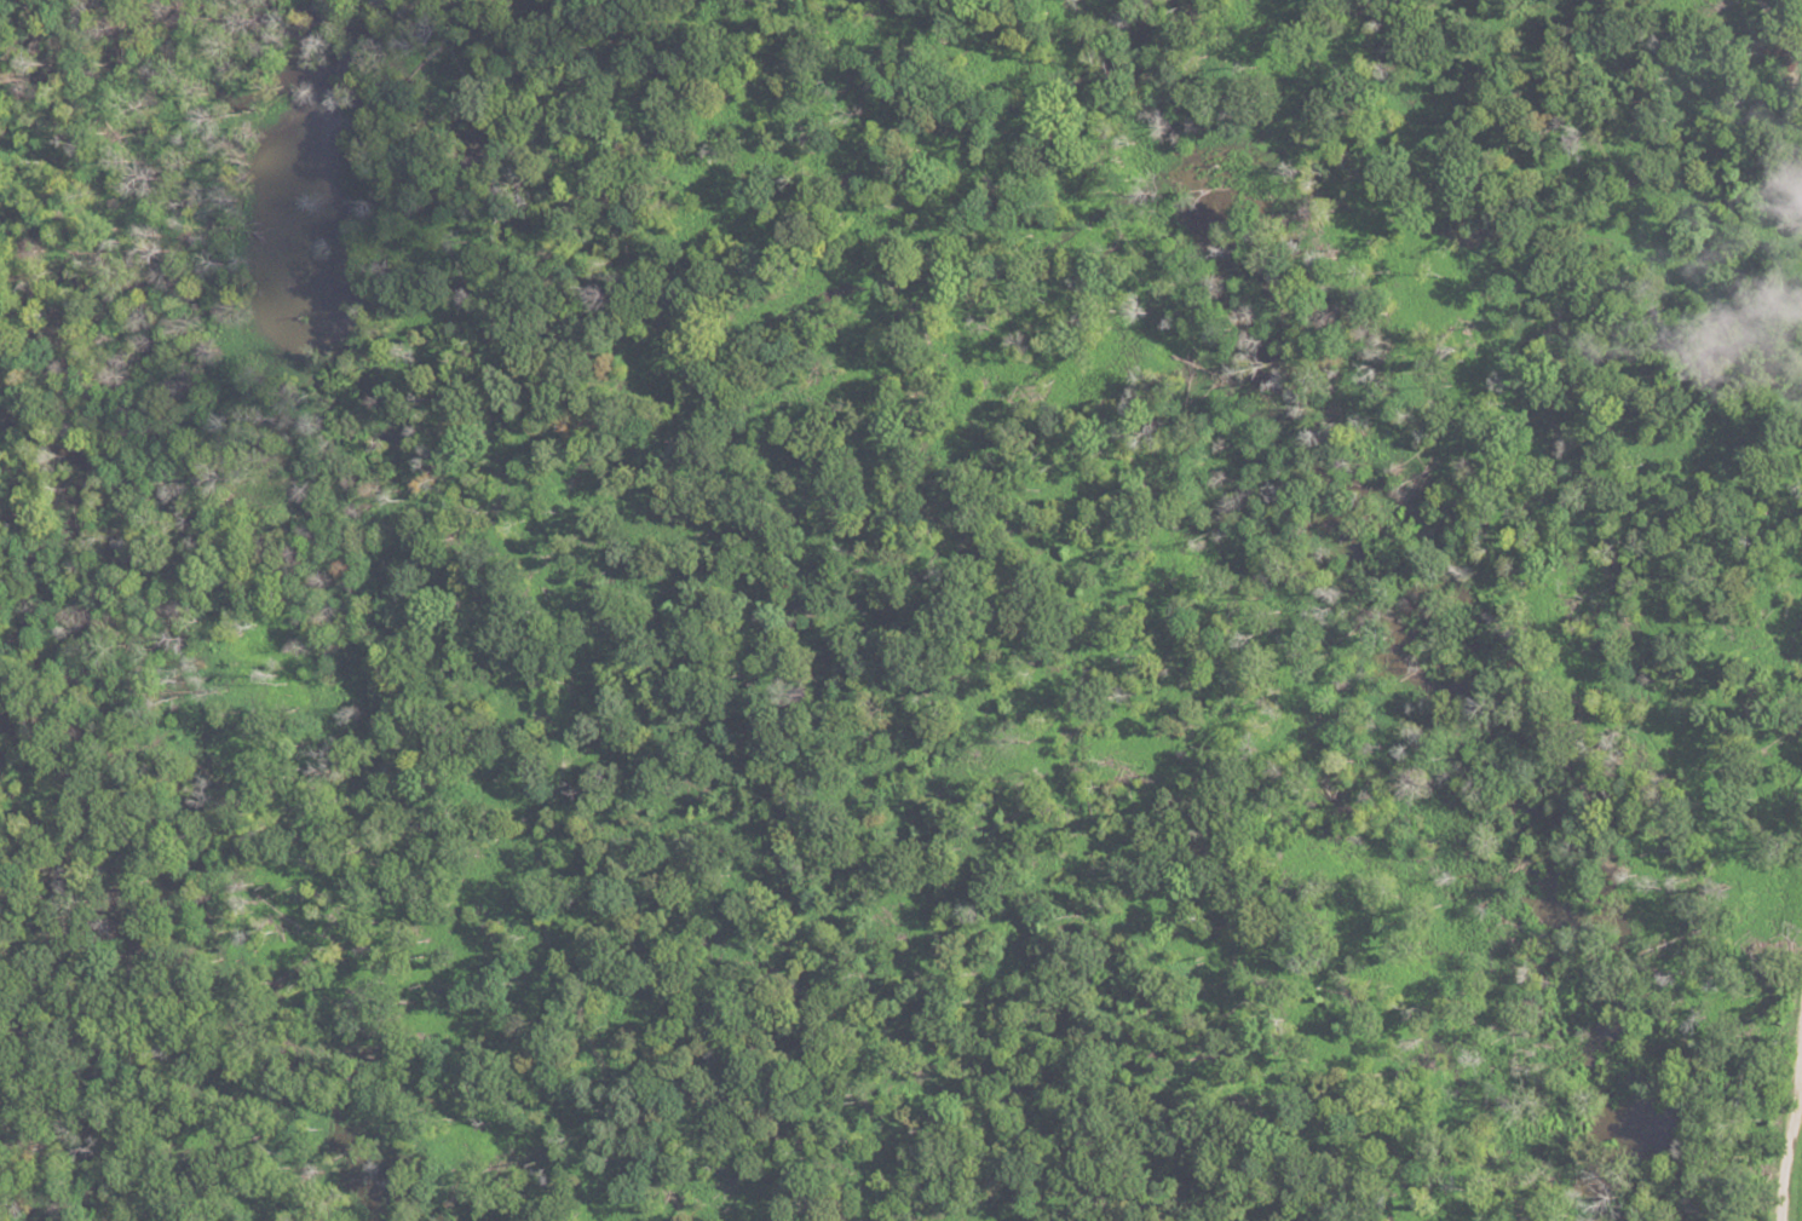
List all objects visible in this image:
road: (1789, 1108)
crop: (1796, 1171)

